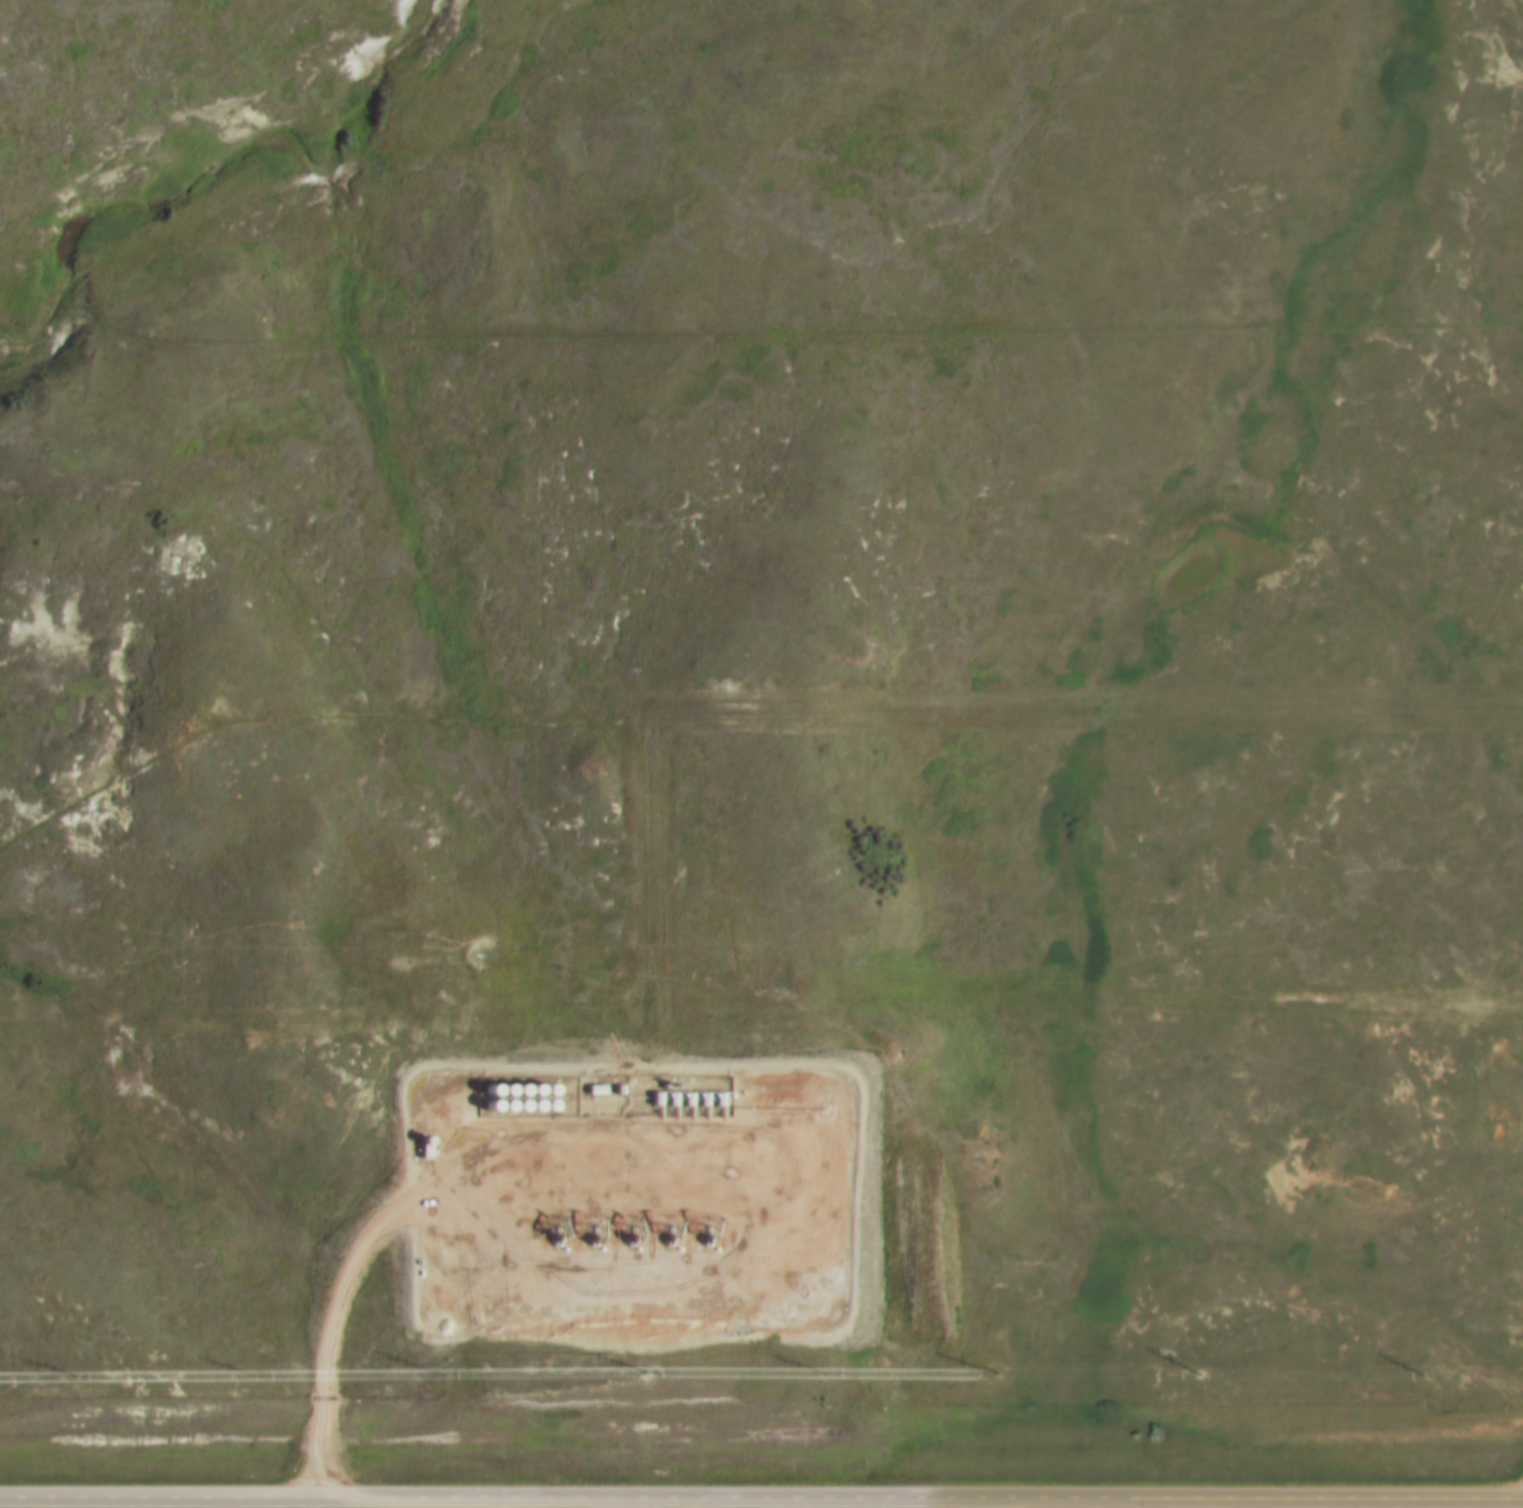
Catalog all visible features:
road: (761, 1501)
road: (993, 1502)

